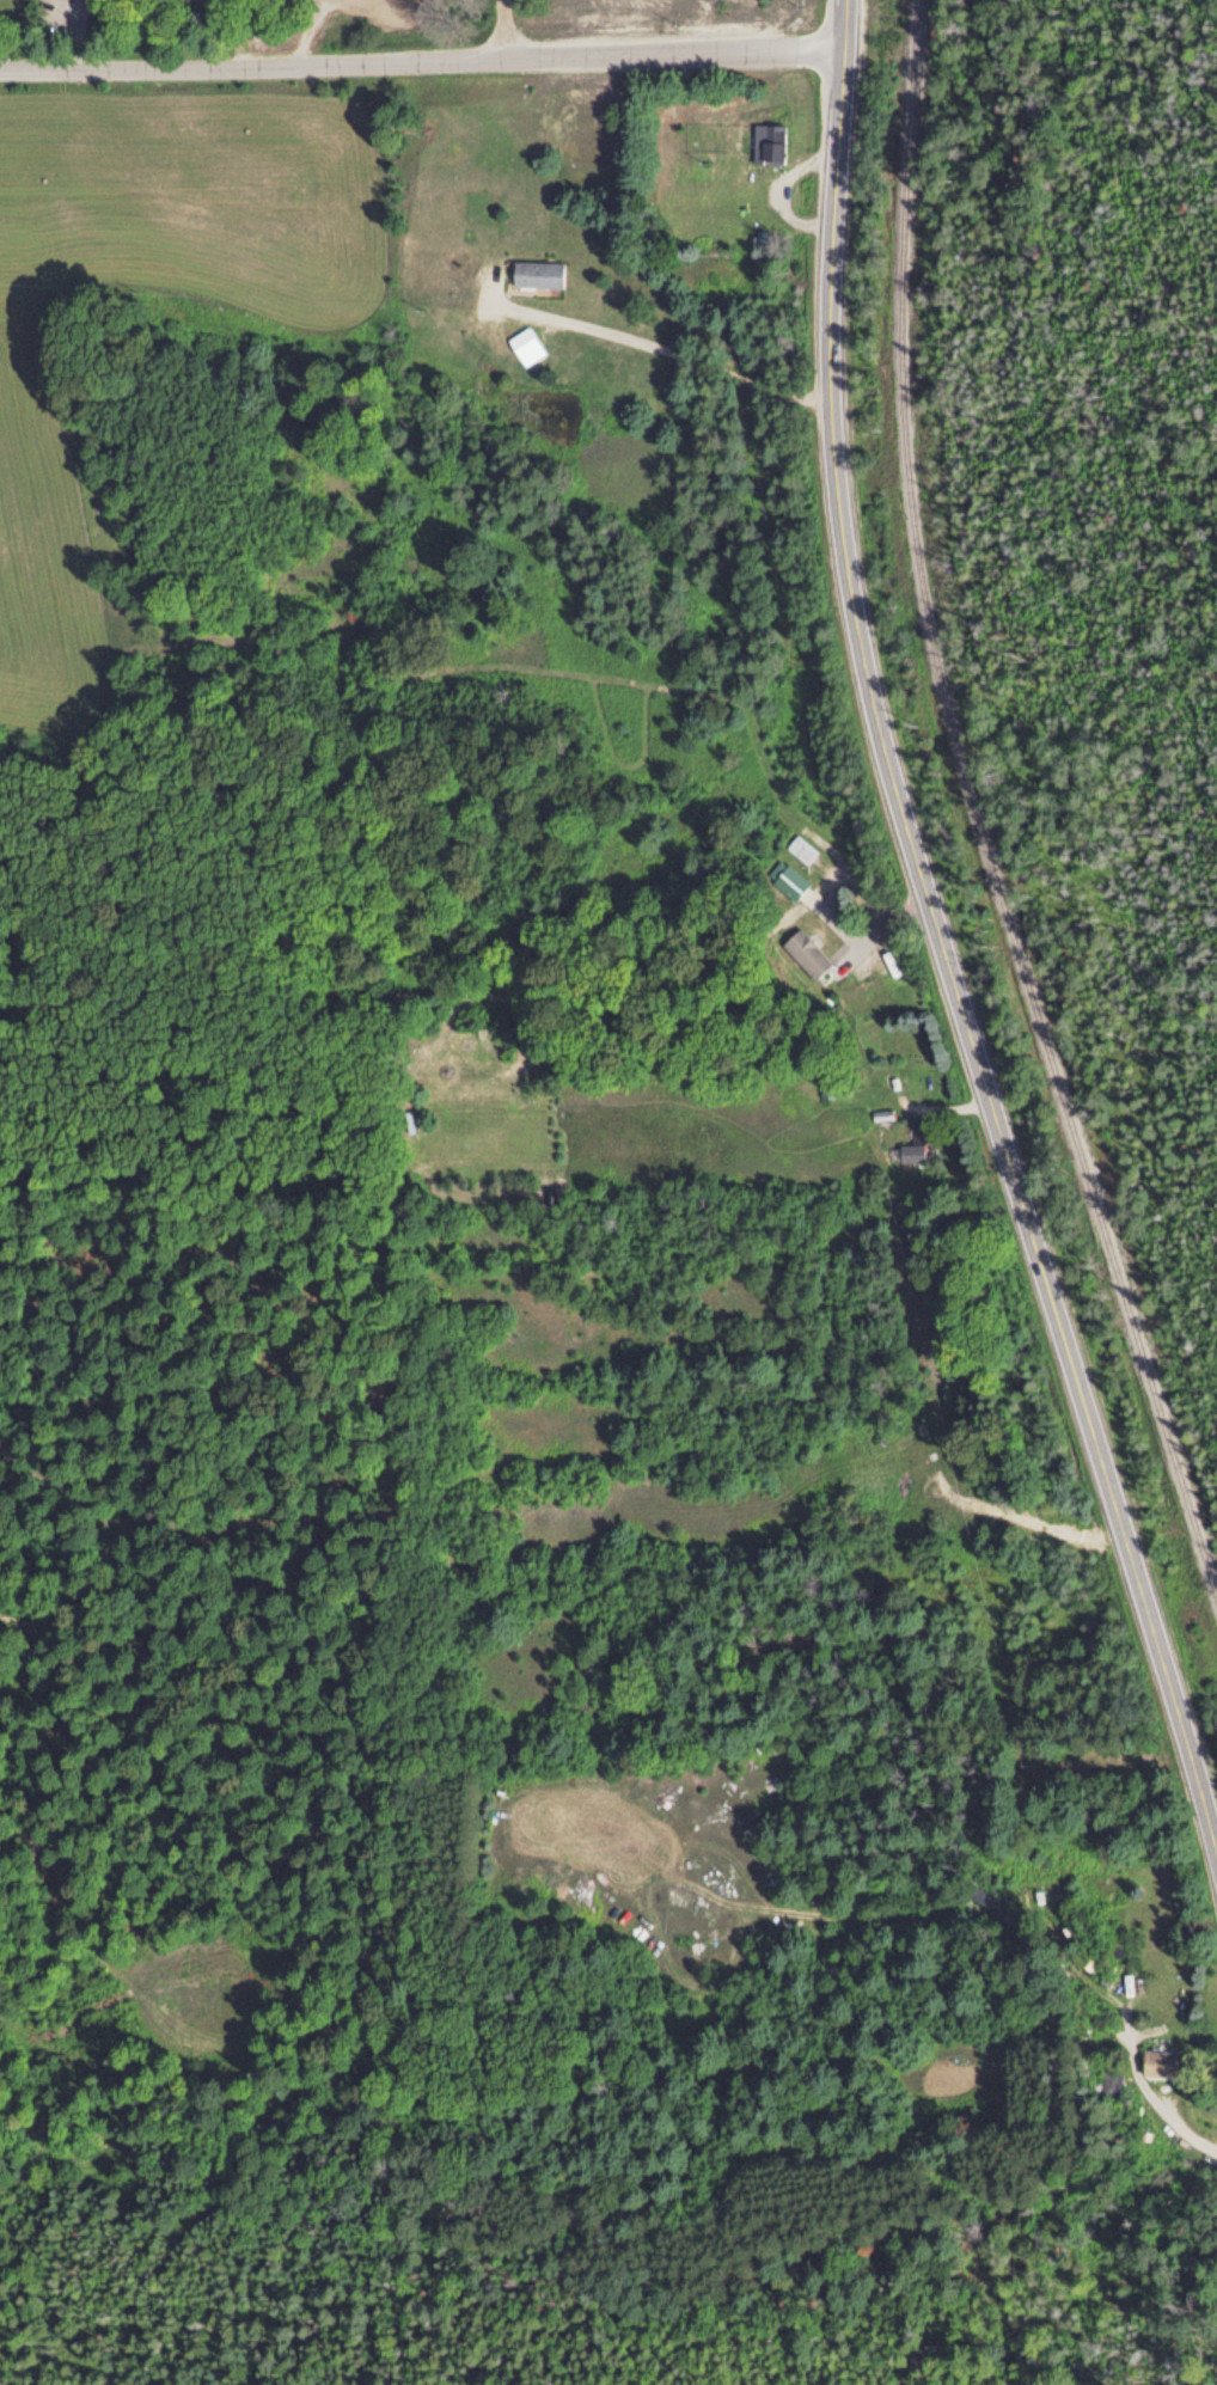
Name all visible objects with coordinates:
road: (423, 57)
building: (767, 141)
building: (724, 164)
building: (537, 271)
building: (522, 341)
railway: (978, 814)
building: (800, 848)
building: (787, 879)
road: (940, 935)
building: (805, 953)
building: (917, 1139)
building: (1068, 1926)
building: (1158, 2061)

